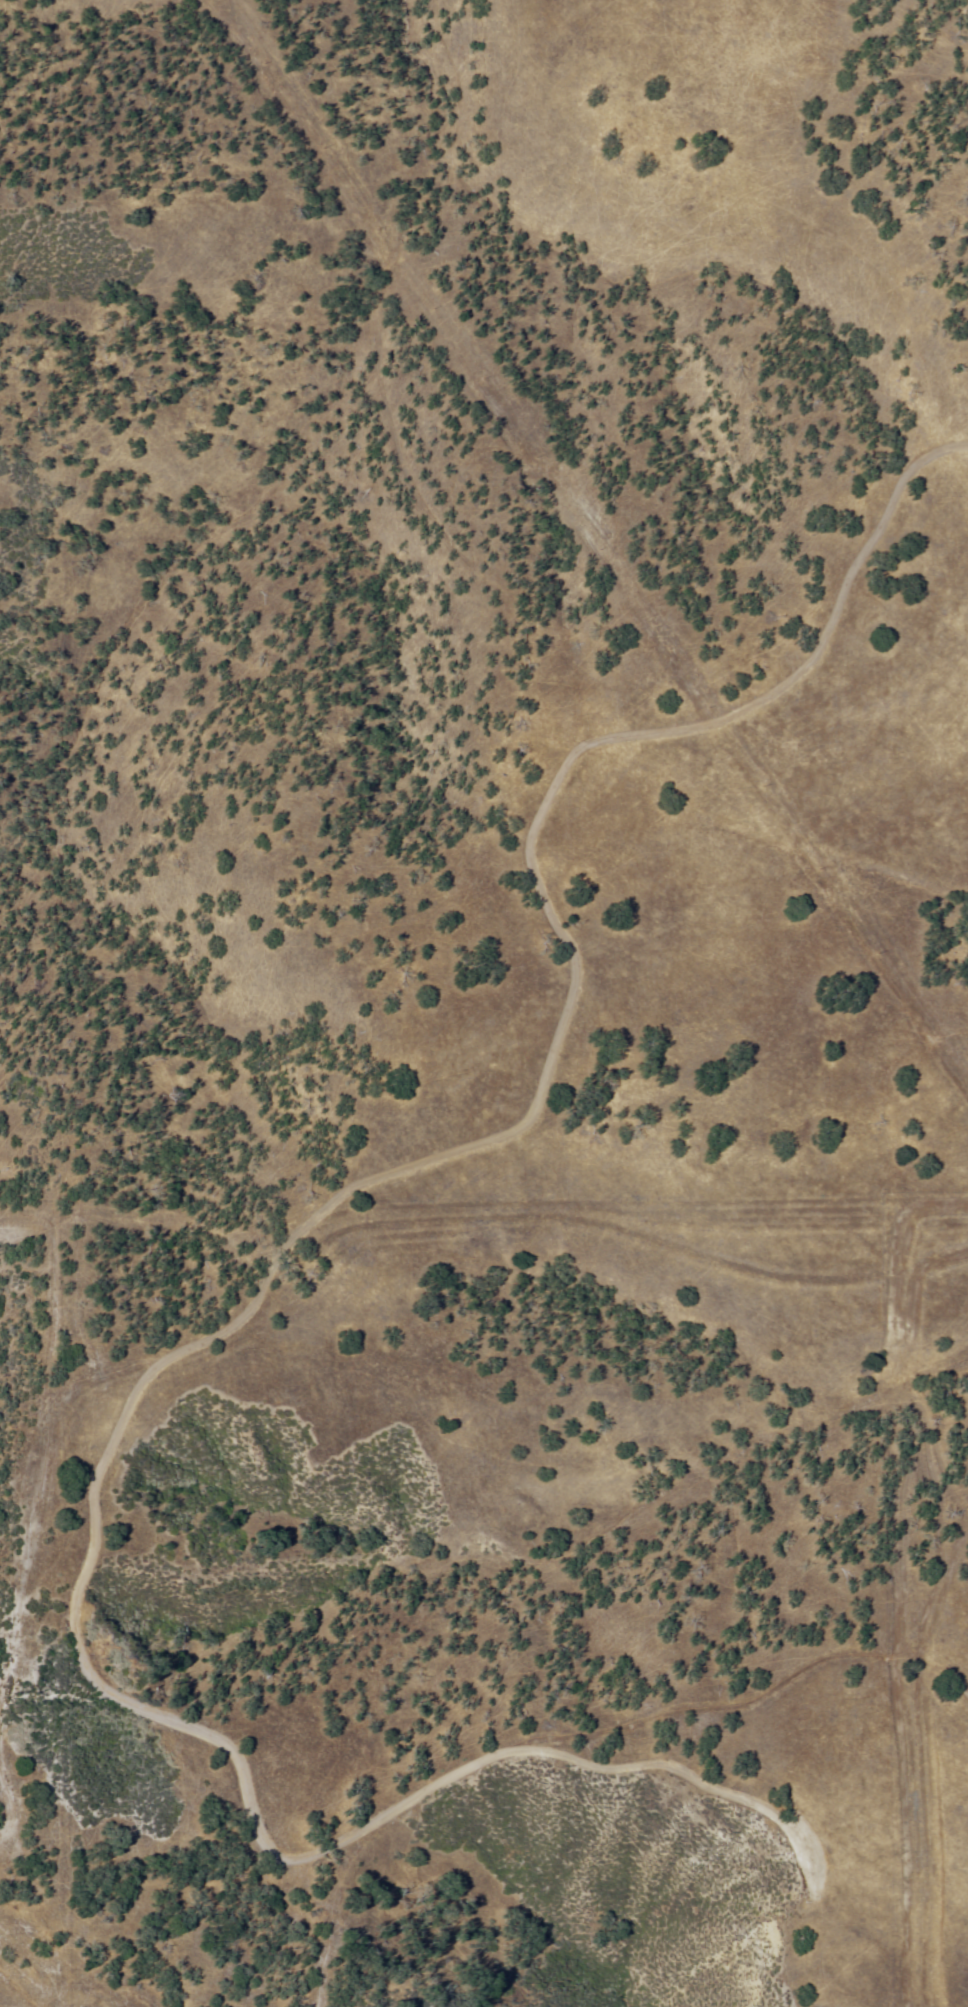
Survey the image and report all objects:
road: (542, 1085)
road: (907, 1218)
road: (934, 1603)
road: (938, 1669)
road: (905, 1724)
road: (8, 1806)
road: (354, 1838)

